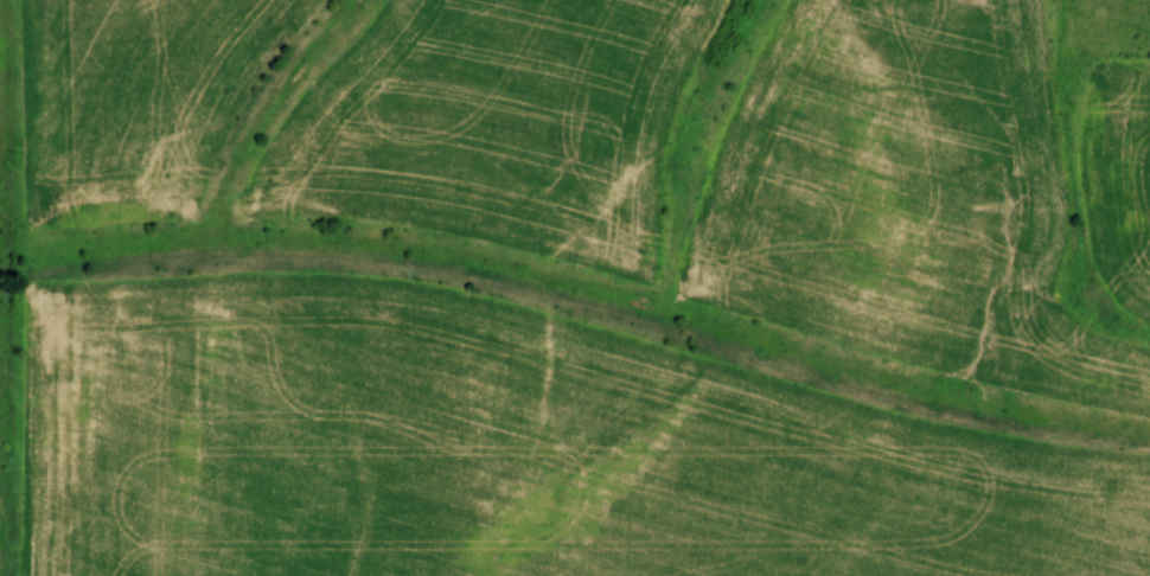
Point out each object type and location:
crop: (133, 101)
crop: (488, 126)
crop: (1117, 178)
crop: (902, 188)
crop: (501, 449)

